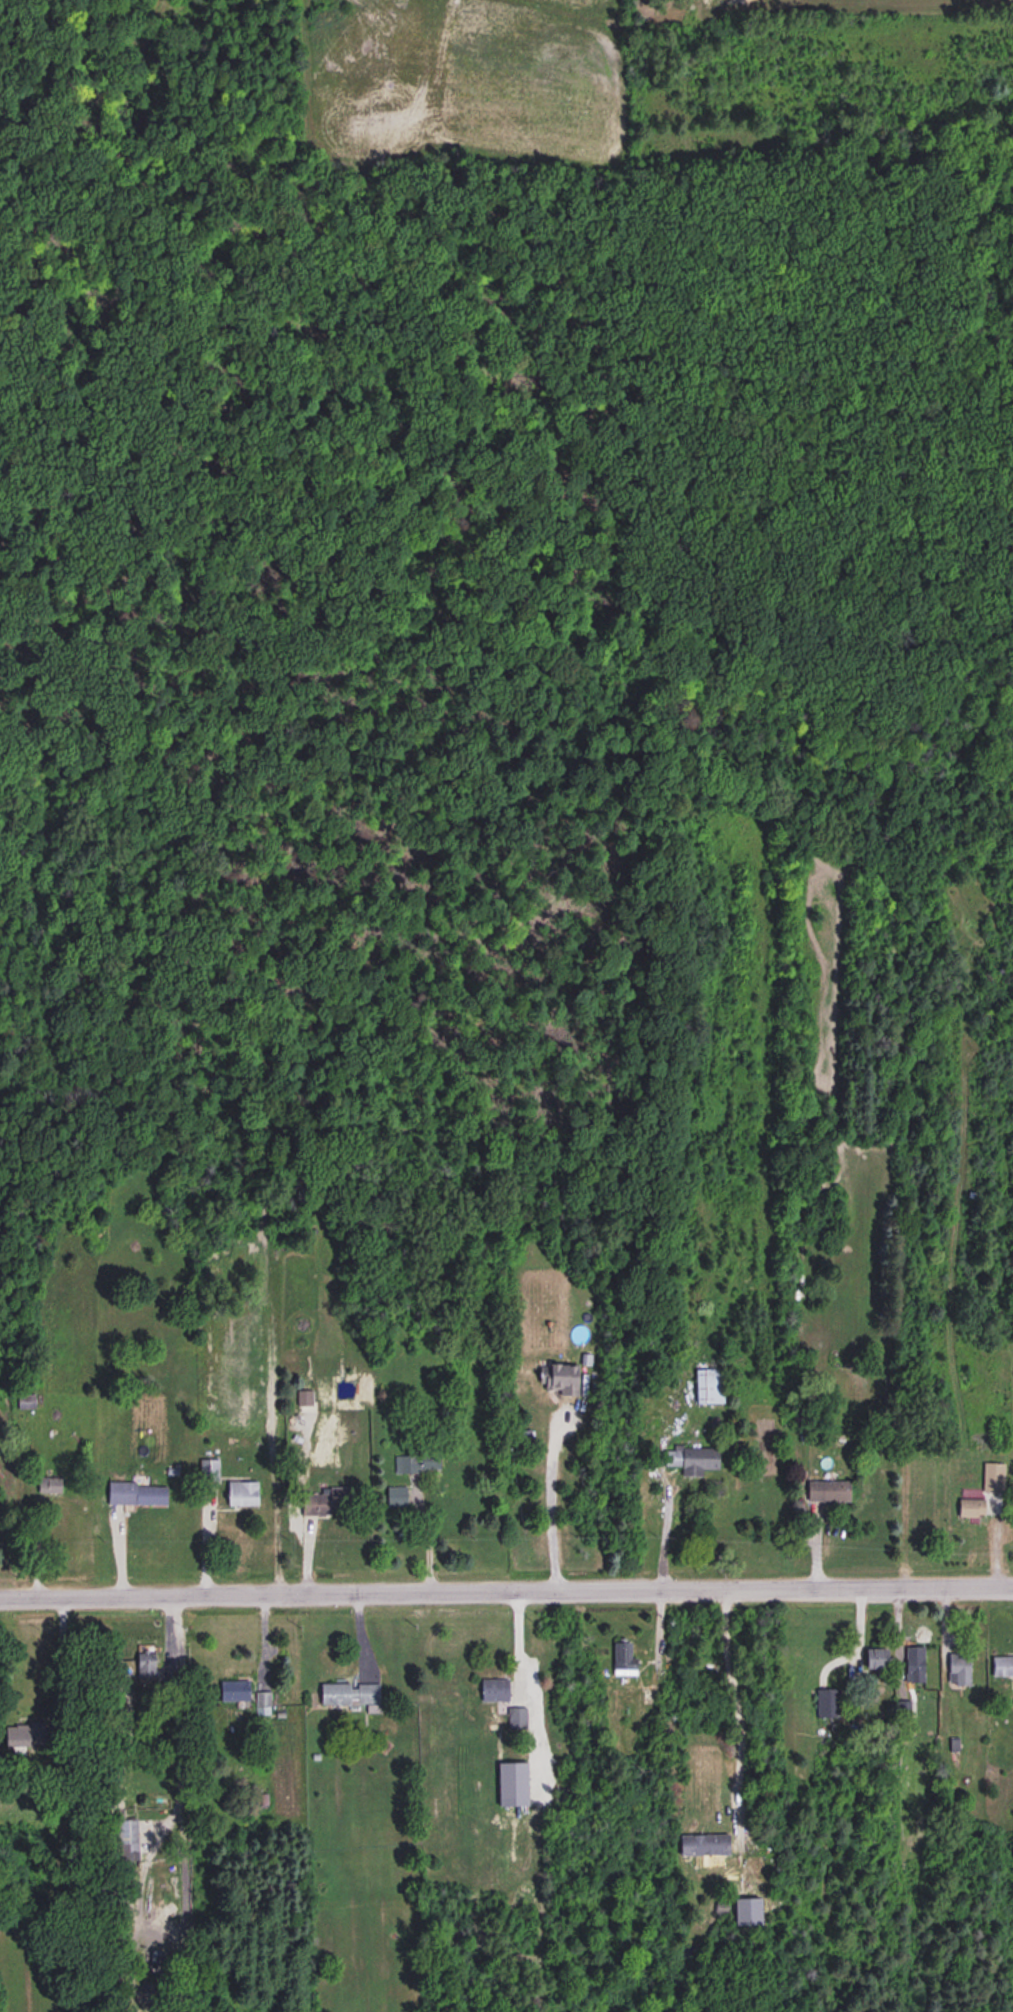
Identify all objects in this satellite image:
building: (558, 1378)
building: (709, 1387)
building: (693, 1460)
building: (994, 1478)
building: (392, 1492)
building: (828, 1492)
building: (138, 1493)
building: (971, 1508)
road: (551, 1511)
road: (506, 1589)
road: (519, 1645)
road: (61, 1659)
building: (623, 1660)
building: (875, 1660)
building: (914, 1665)
building: (1003, 1667)
building: (960, 1669)
road: (734, 1695)
building: (828, 1704)
building: (516, 1718)
road: (180, 1723)
building: (512, 1784)
building: (704, 1845)

